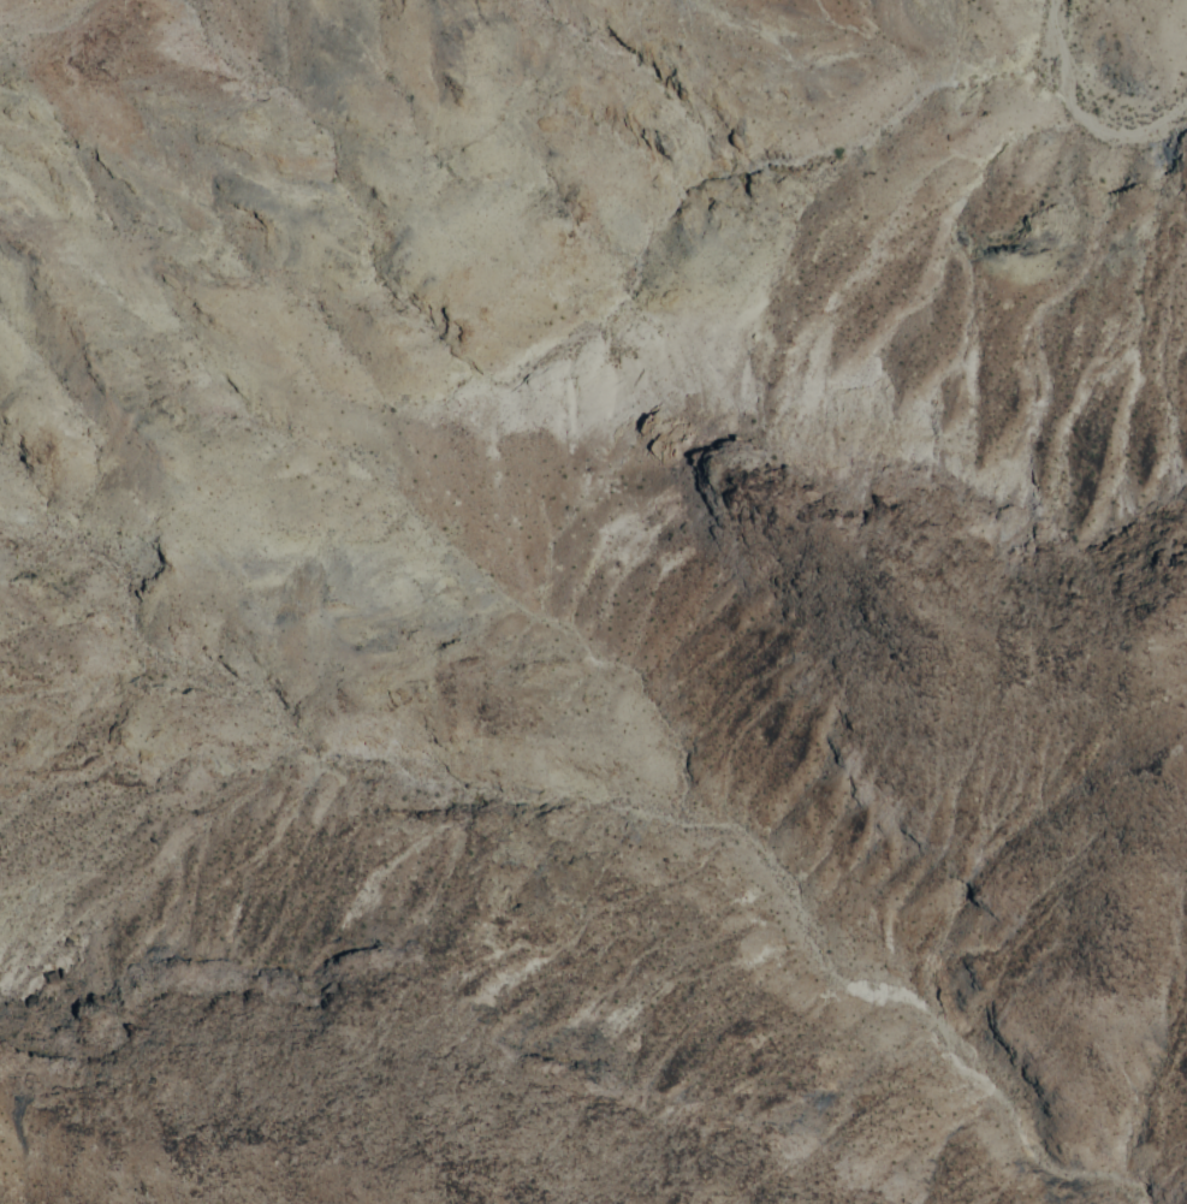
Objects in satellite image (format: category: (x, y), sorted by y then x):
road: (1086, 111)

